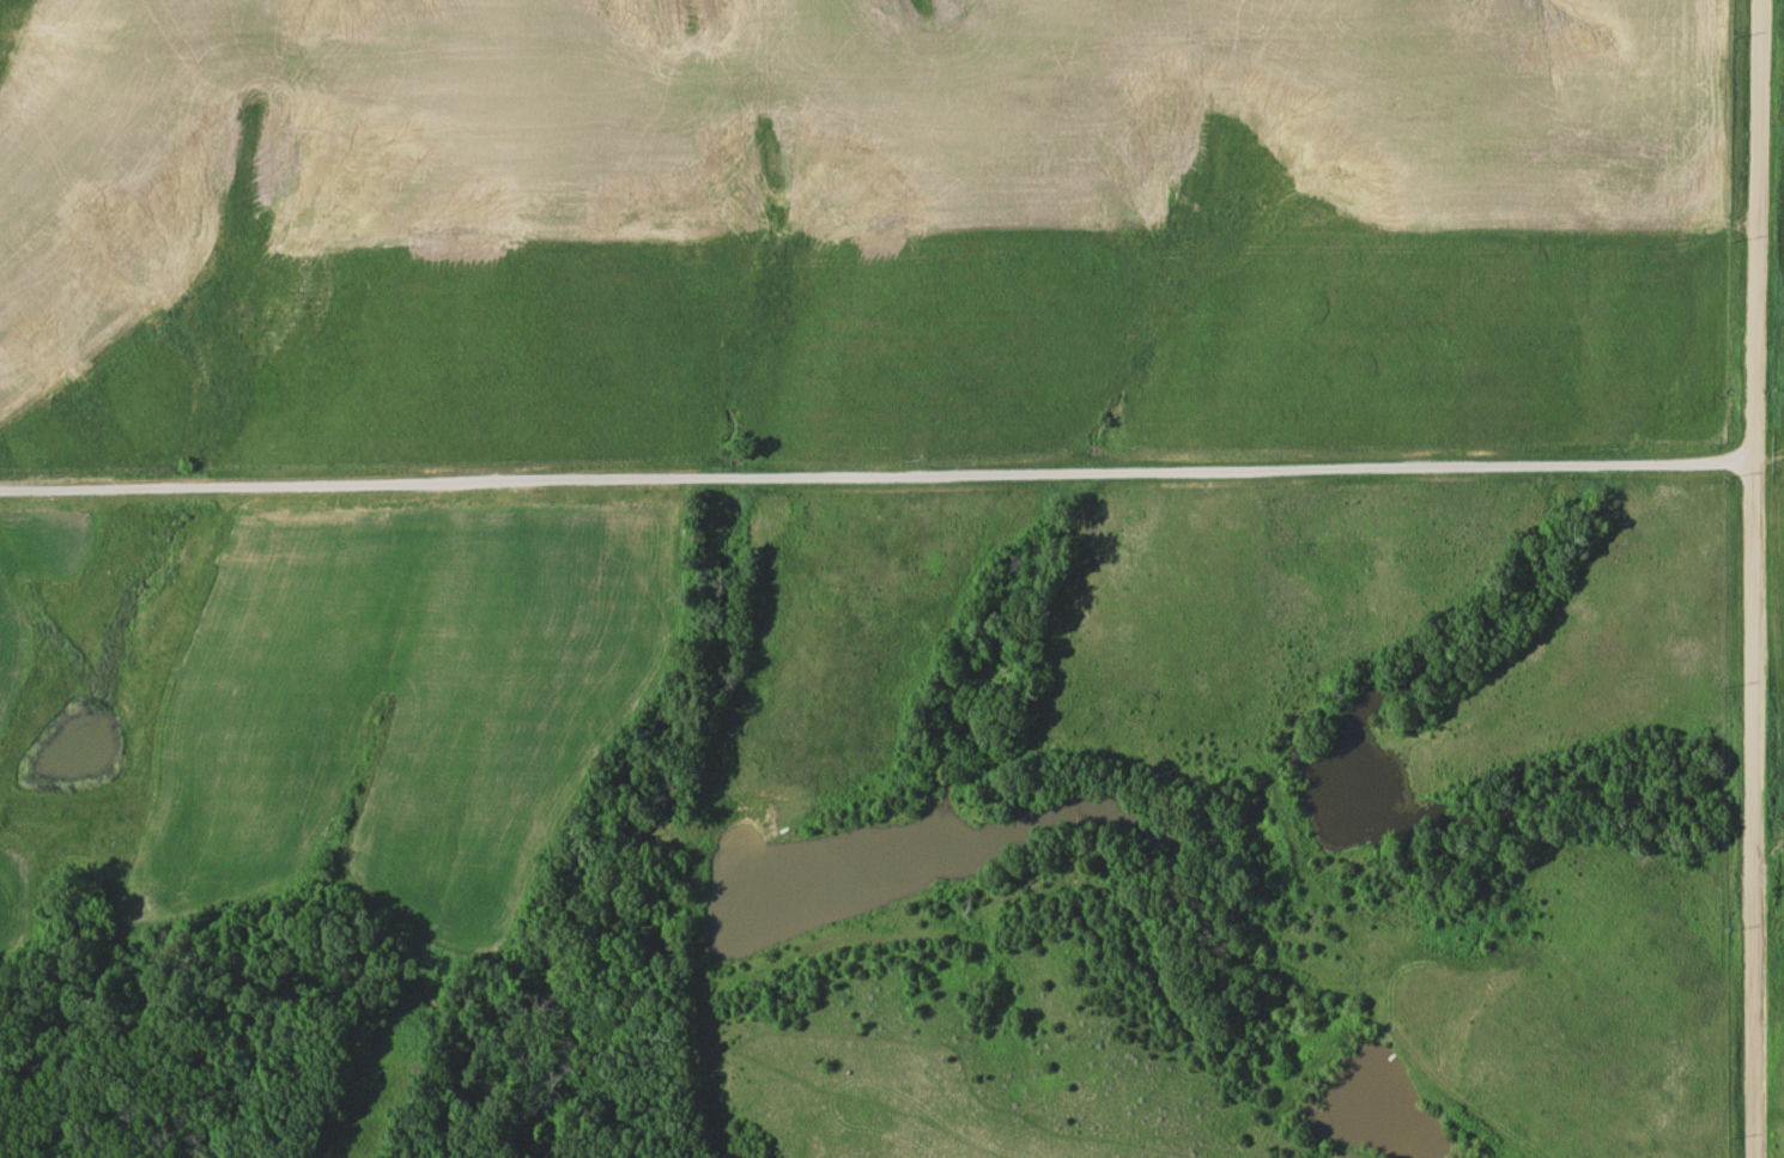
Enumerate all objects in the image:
road: (878, 478)
road: (1756, 578)

